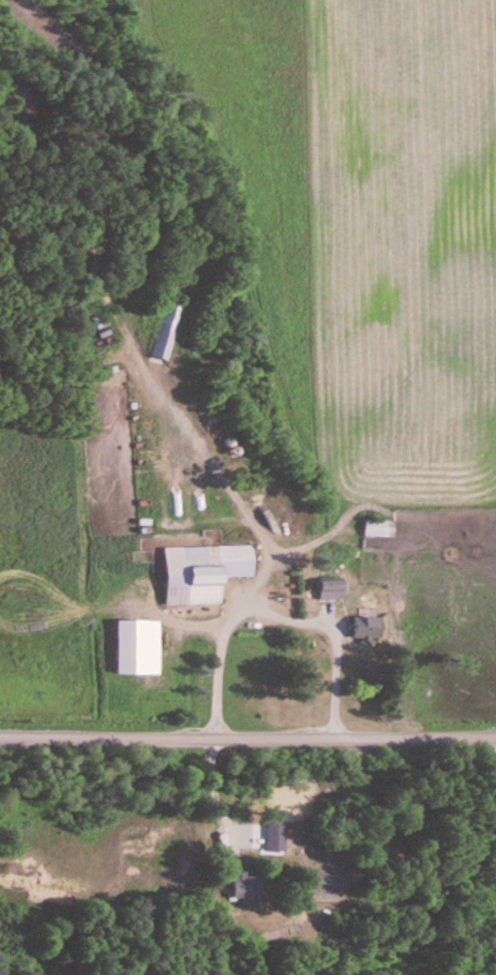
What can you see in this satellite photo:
road: (207, 479)
building: (377, 528)
building: (201, 573)
building: (329, 589)
road: (258, 609)
building: (366, 628)
building: (130, 648)
road: (247, 721)
building: (275, 837)
building: (243, 886)

